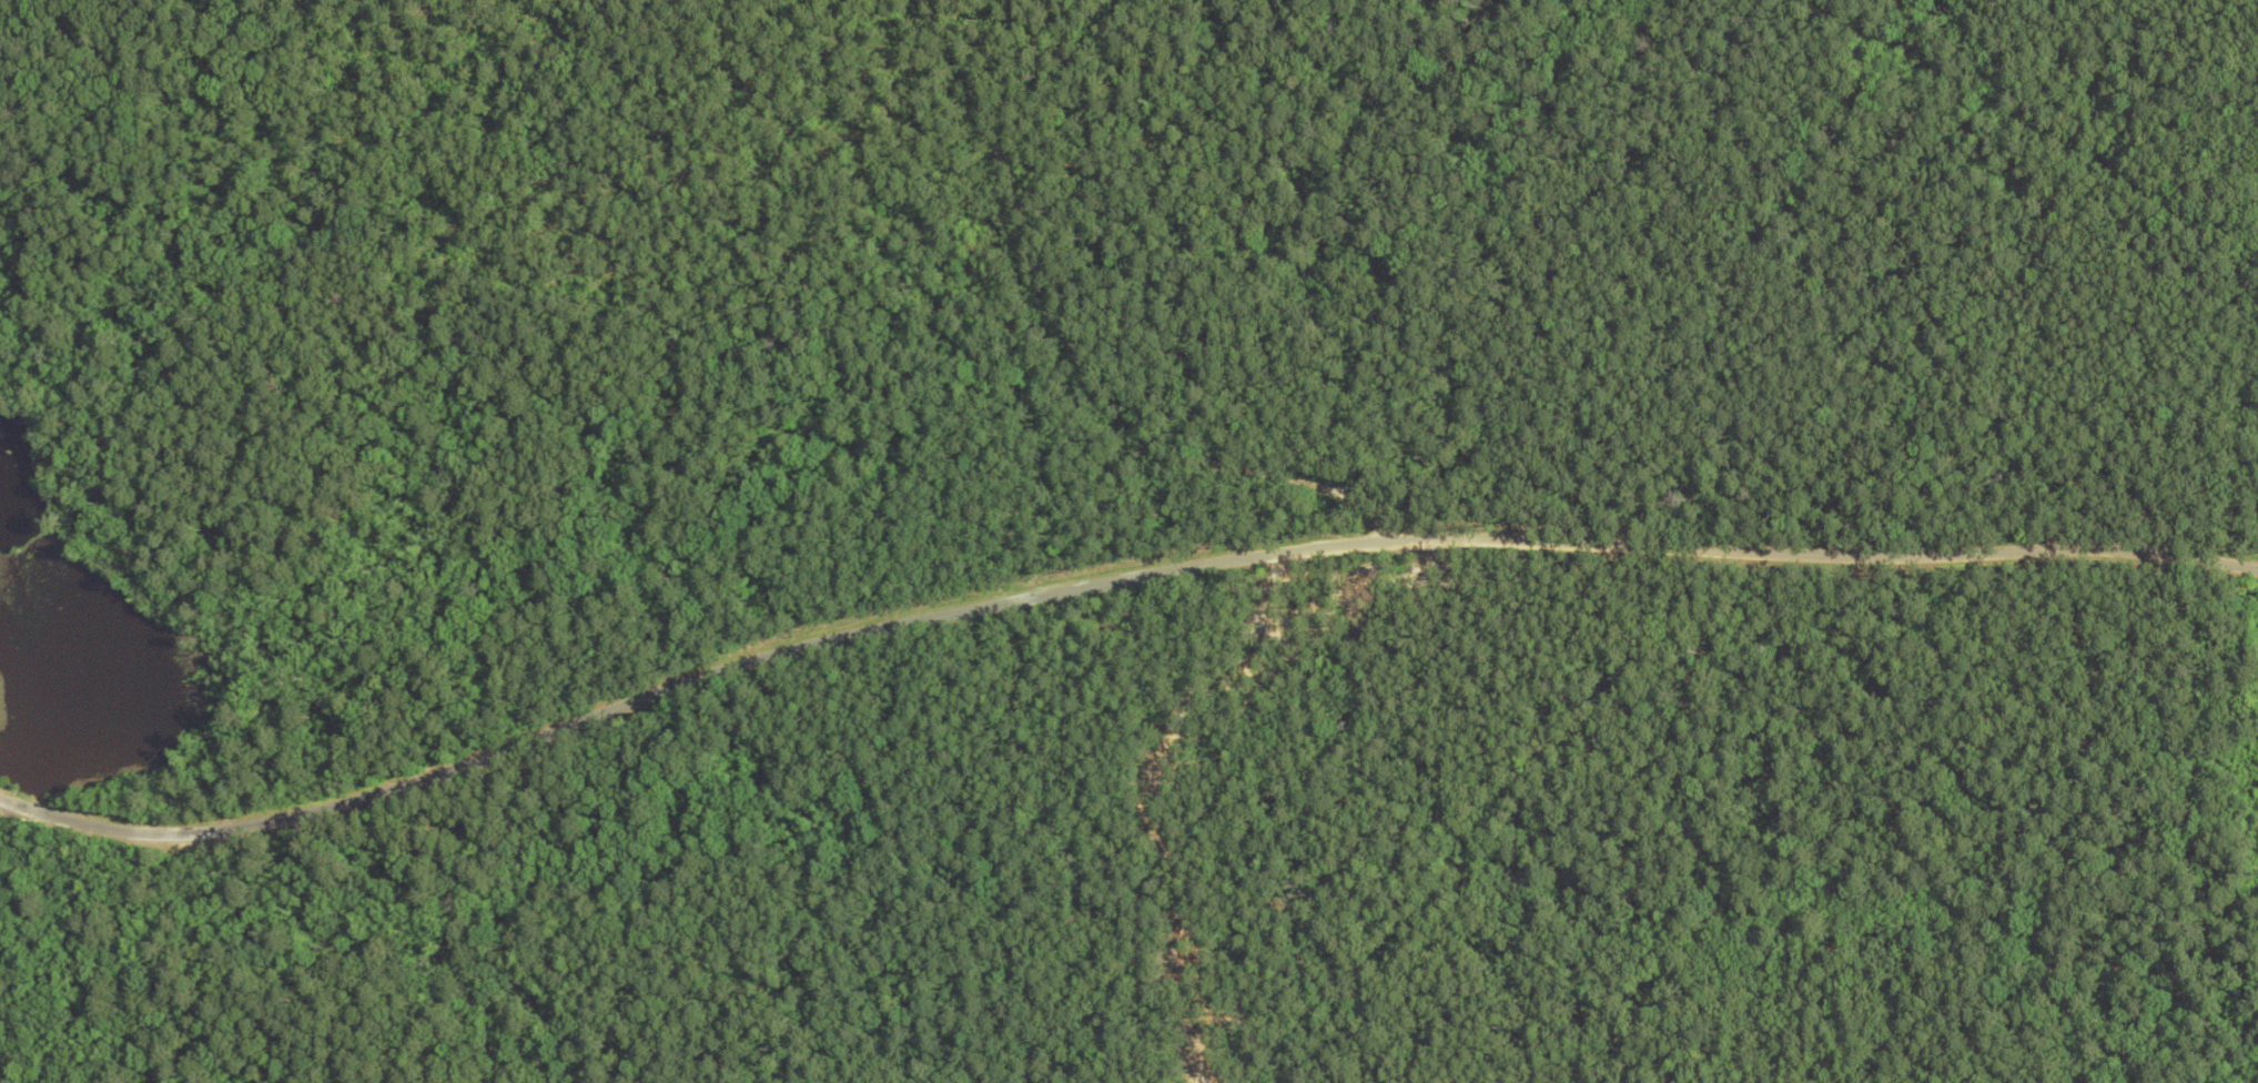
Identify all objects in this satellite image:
road: (1118, 595)

